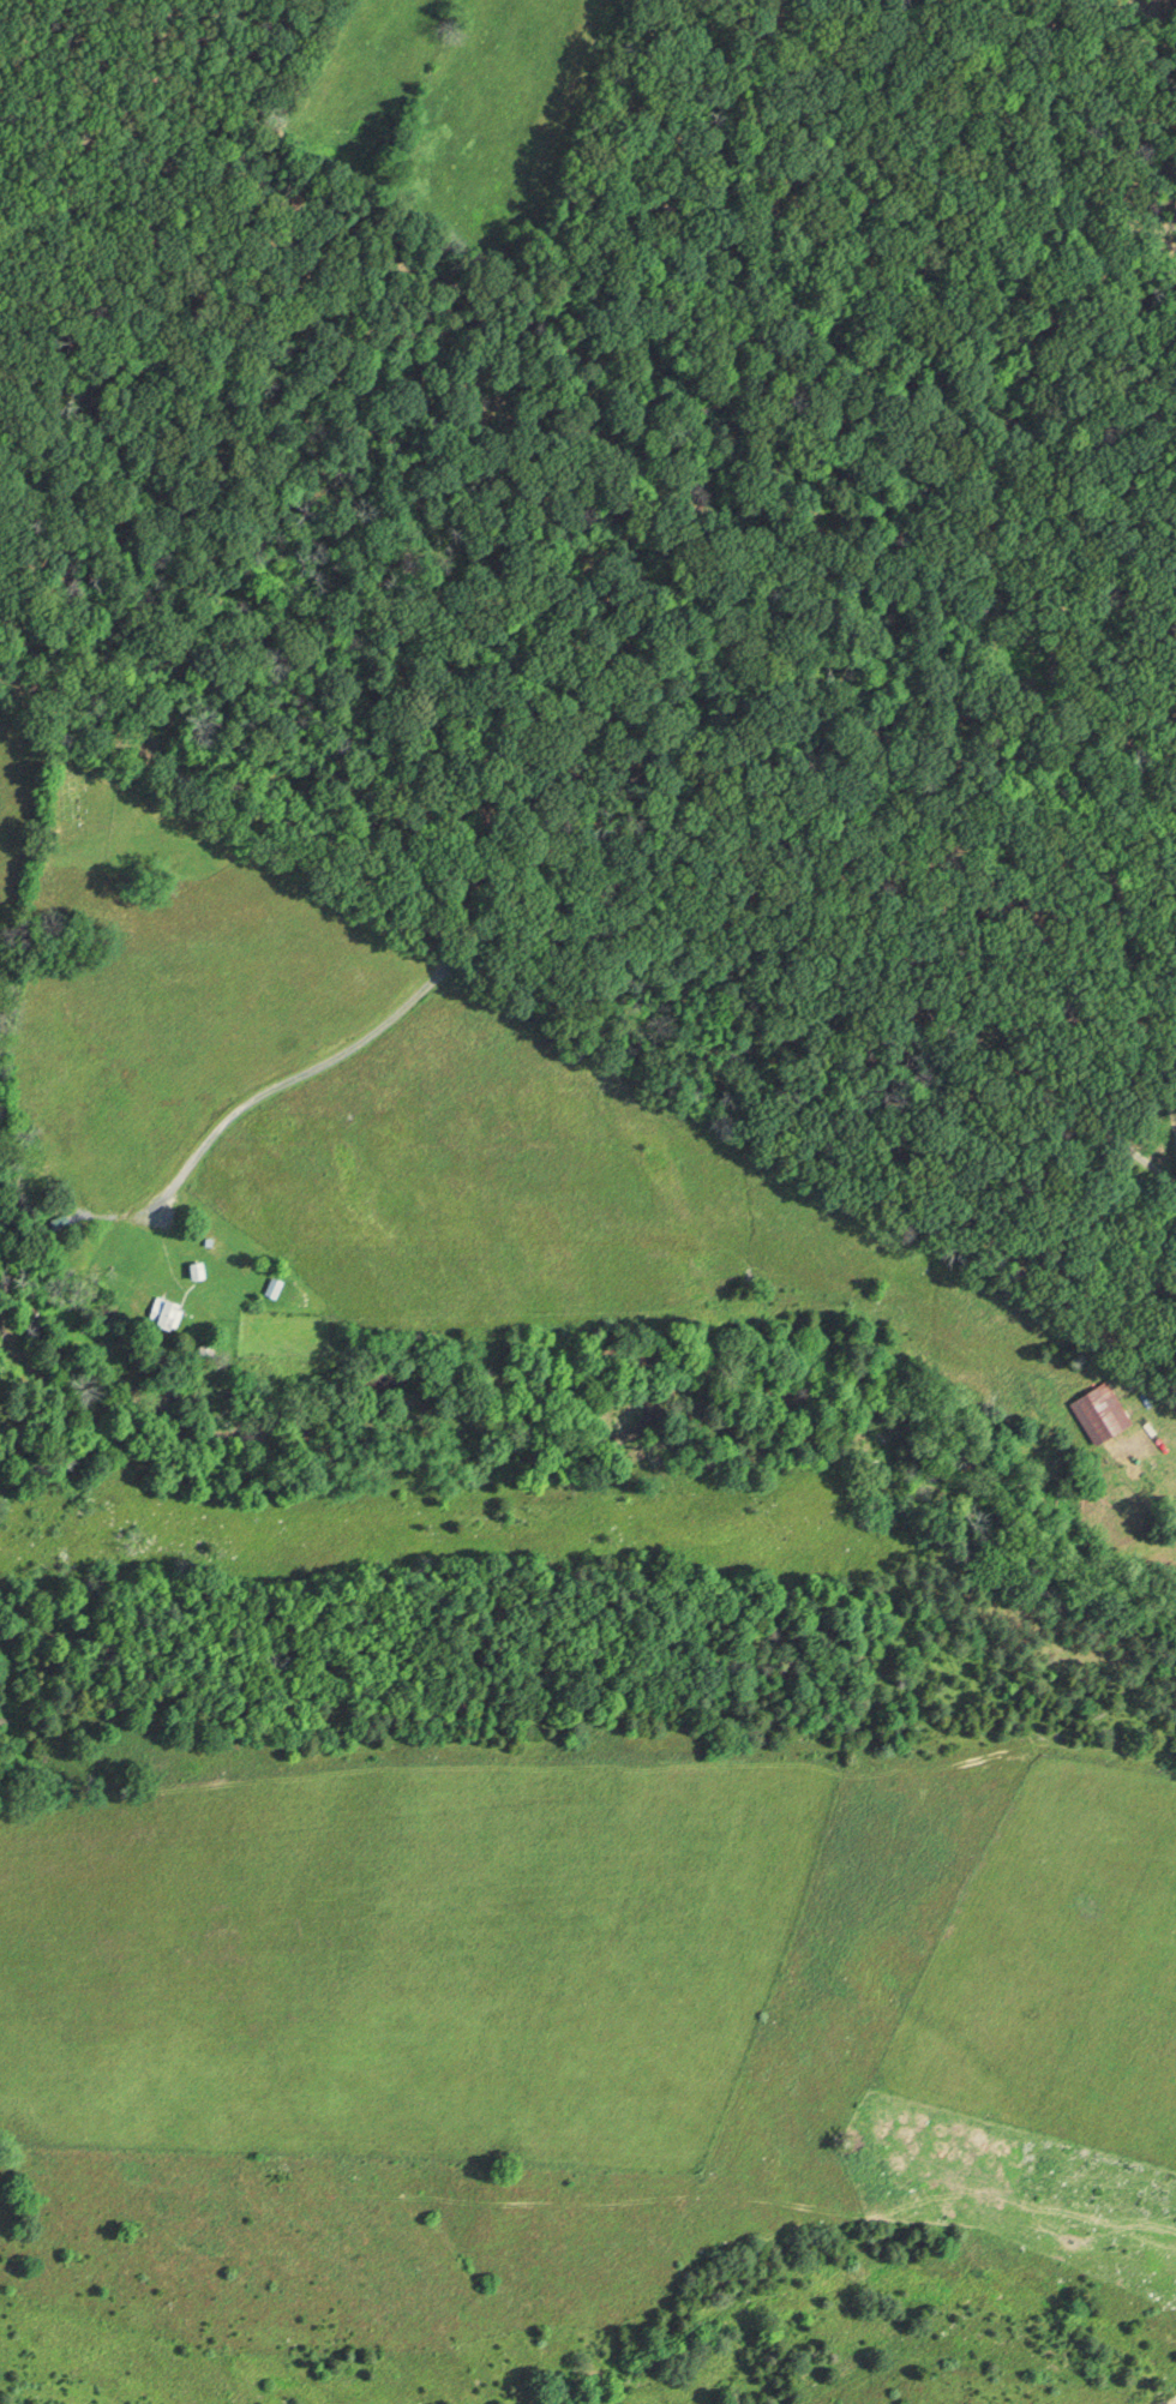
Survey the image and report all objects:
building: (202, 1270)
building: (170, 1312)
building: (1104, 1413)

